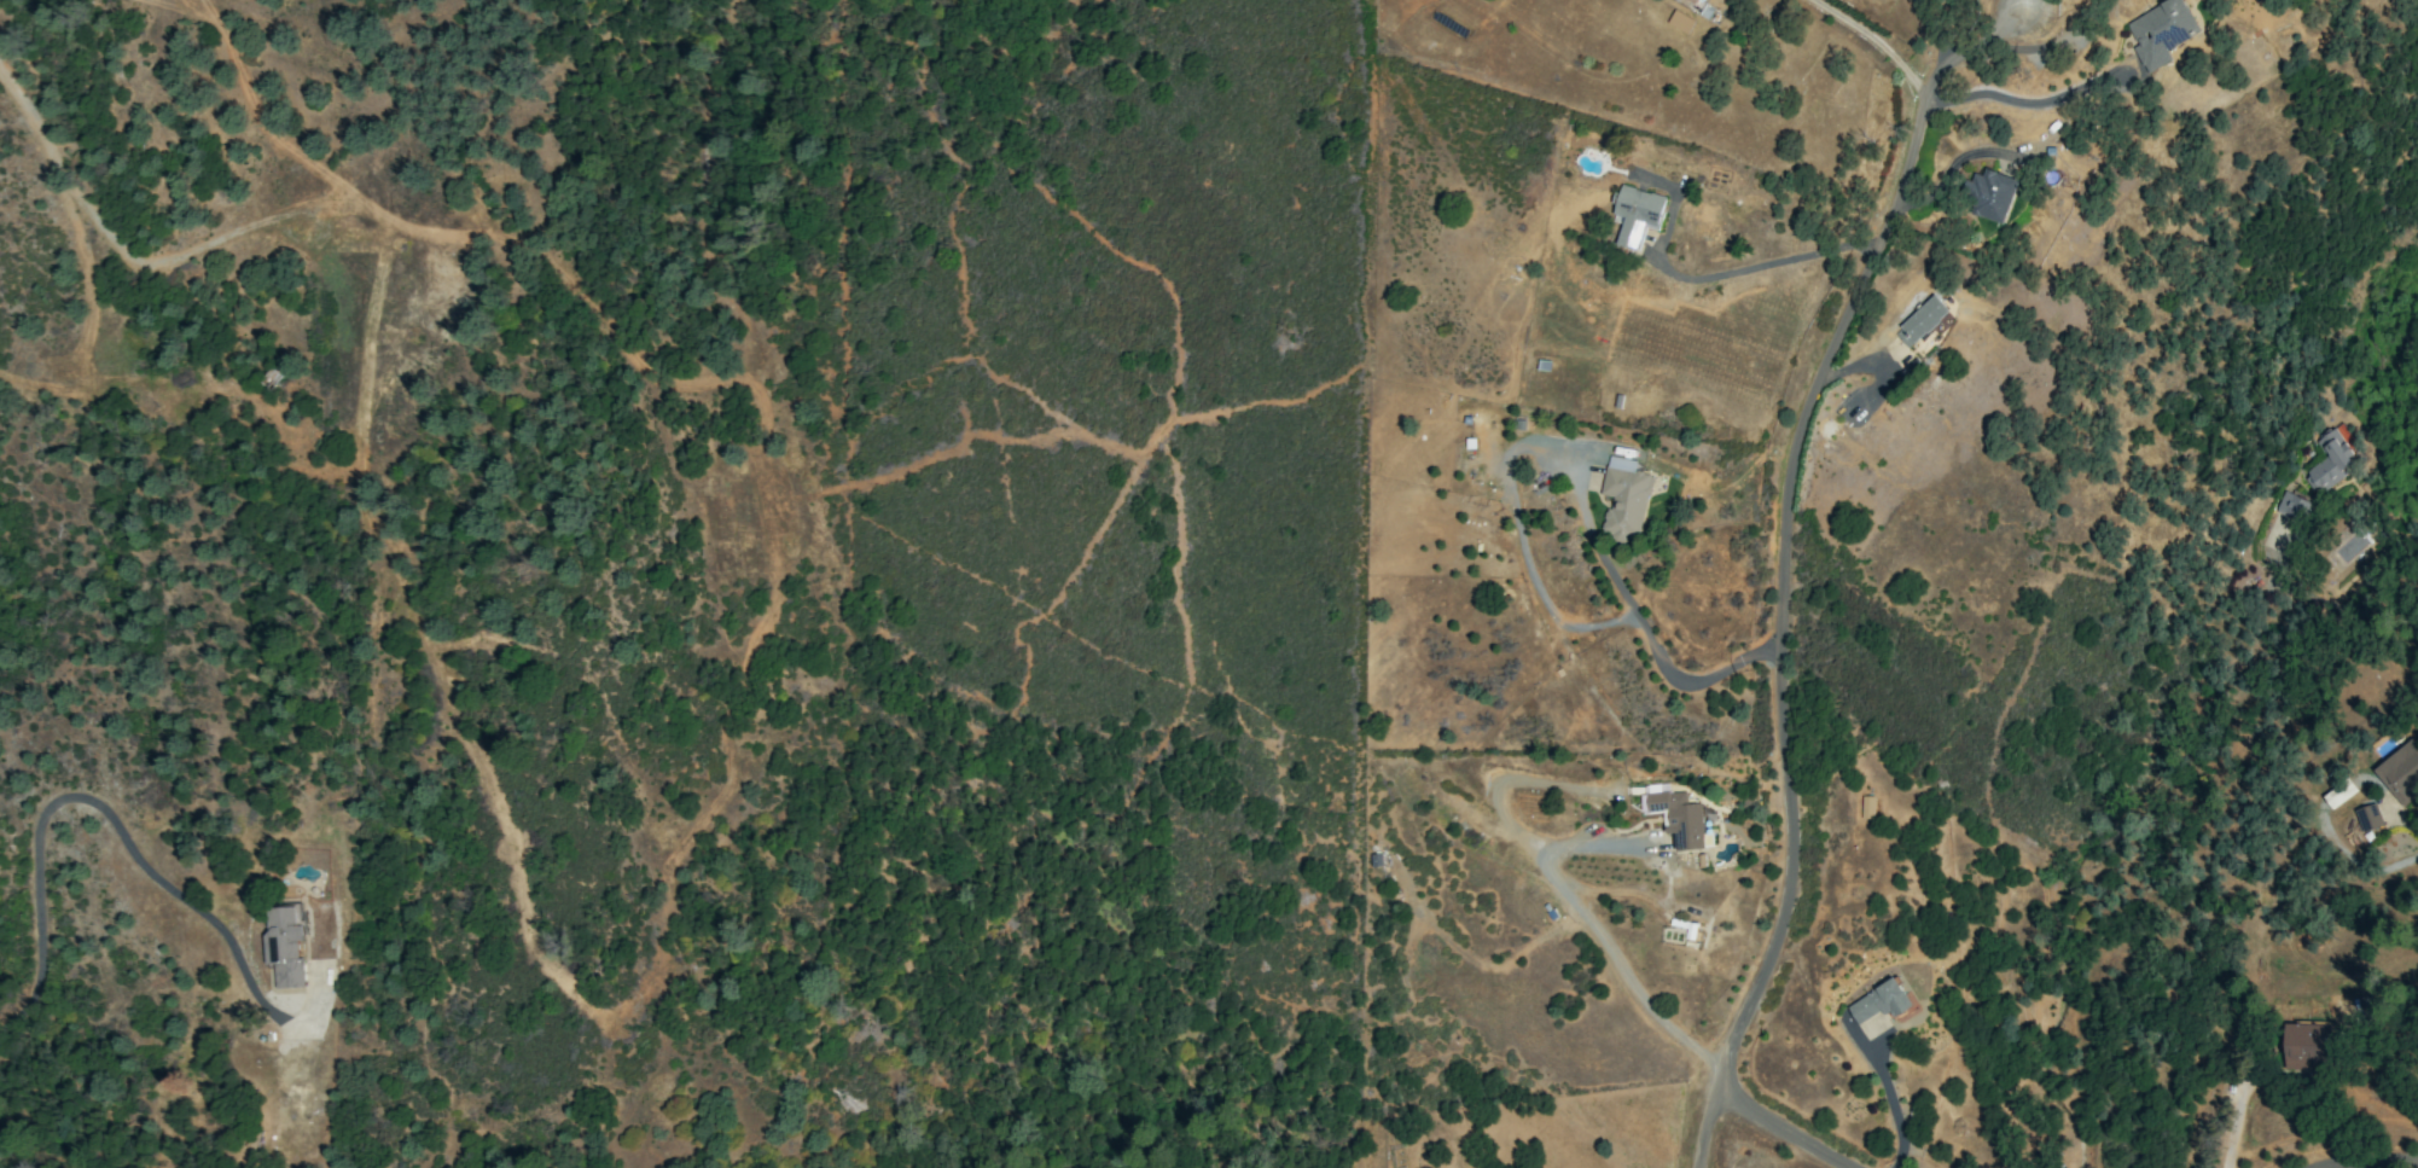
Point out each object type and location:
building: (1695, 1)
building: (1680, 22)
road: (1930, 30)
building: (2161, 33)
road: (1876, 40)
road: (2023, 103)
road: (1951, 165)
building: (1989, 194)
building: (1637, 215)
road: (1768, 265)
building: (1920, 321)
building: (2331, 461)
building: (1623, 498)
building: (2291, 506)
road: (1781, 562)
road: (2341, 605)
road: (1661, 667)
building: (2400, 773)
building: (2336, 791)
road: (93, 800)
building: (1866, 807)
building: (2367, 818)
building: (1678, 819)
road: (1605, 943)
building: (285, 945)
building: (1879, 1003)
building: (2308, 1045)
road: (1894, 1111)
road: (2232, 1125)
road: (1780, 1131)
road: (2368, 1163)

